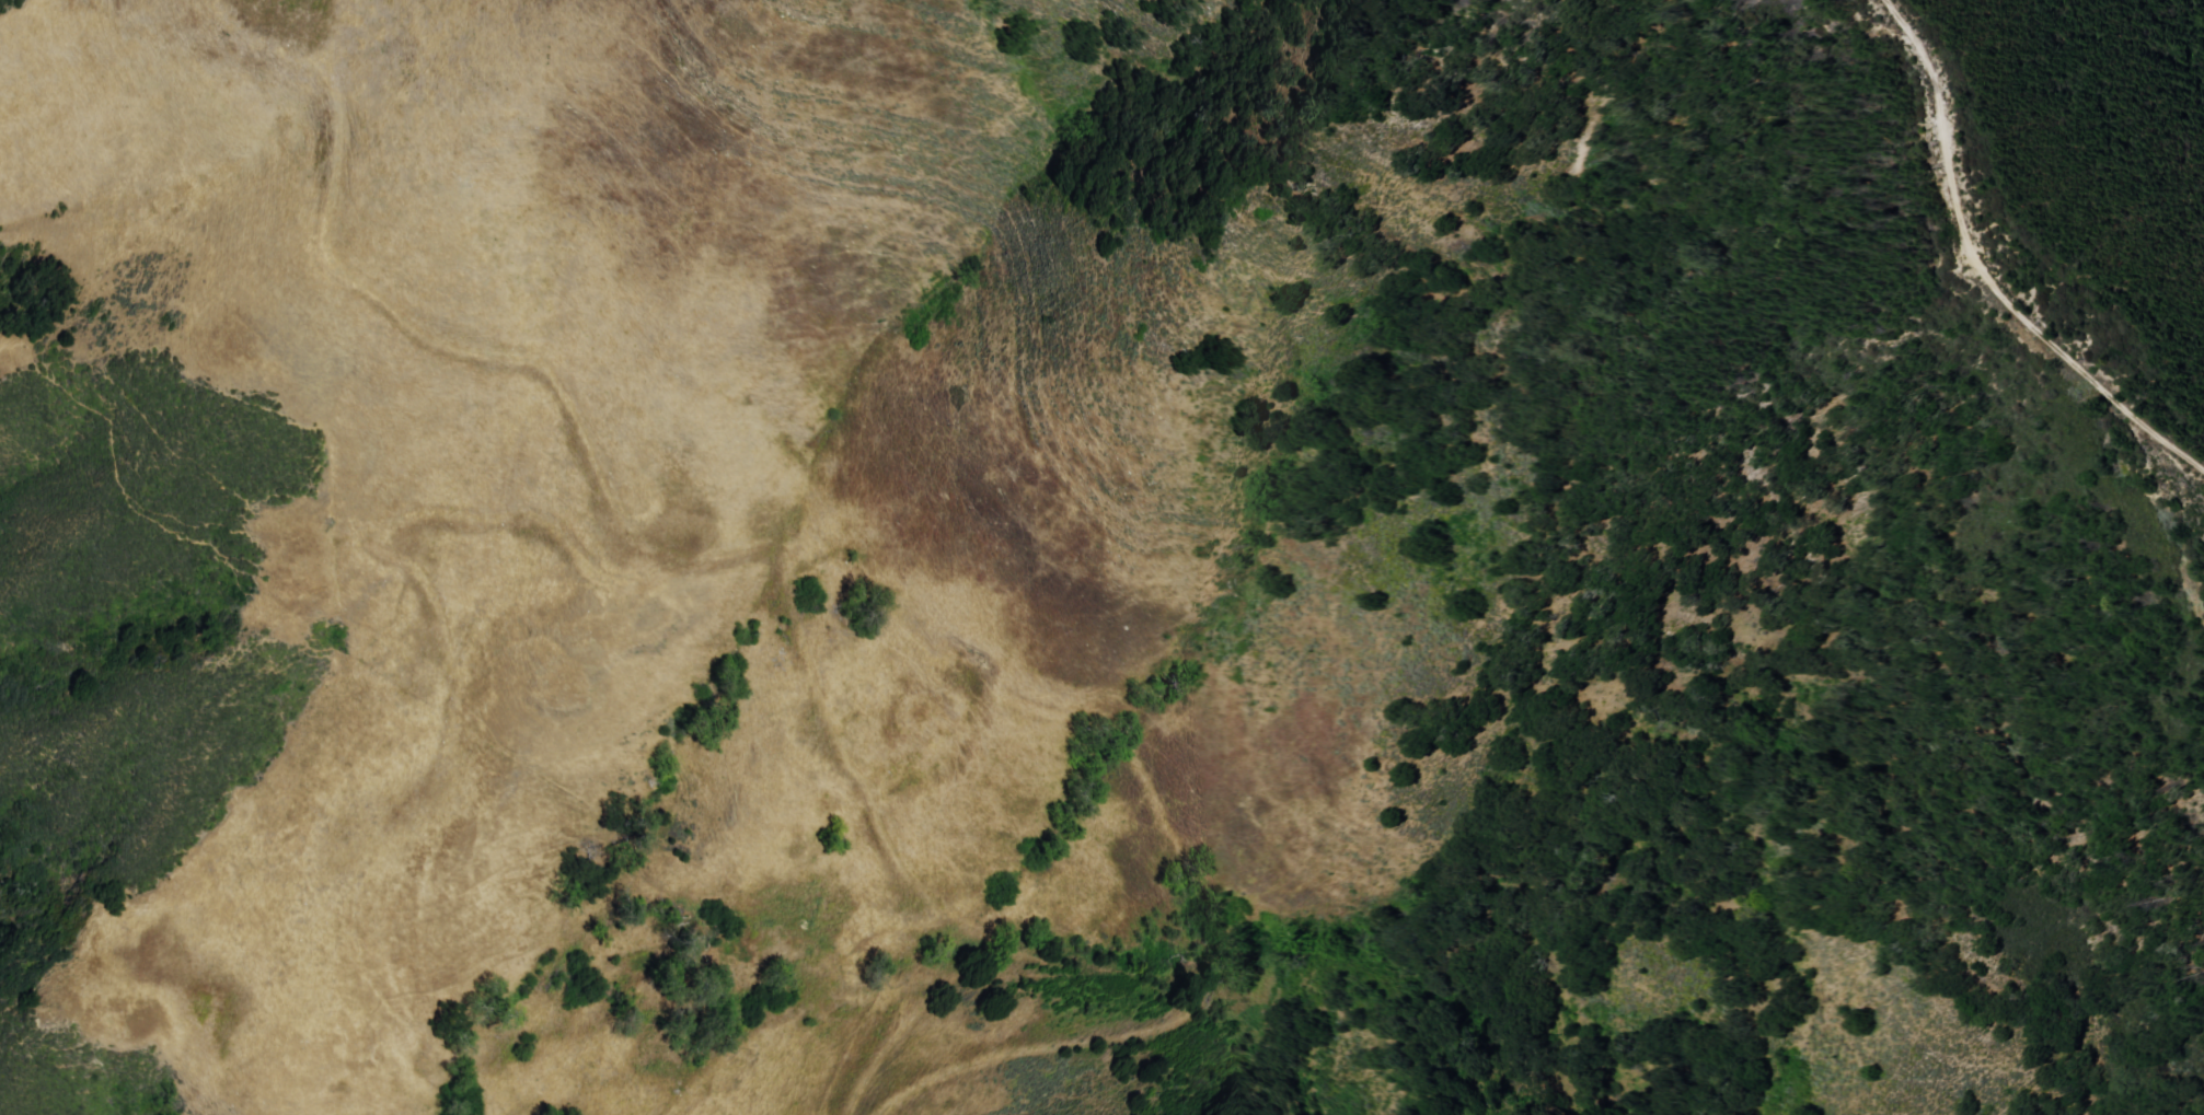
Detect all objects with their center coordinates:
road: (1985, 276)
road: (655, 550)

